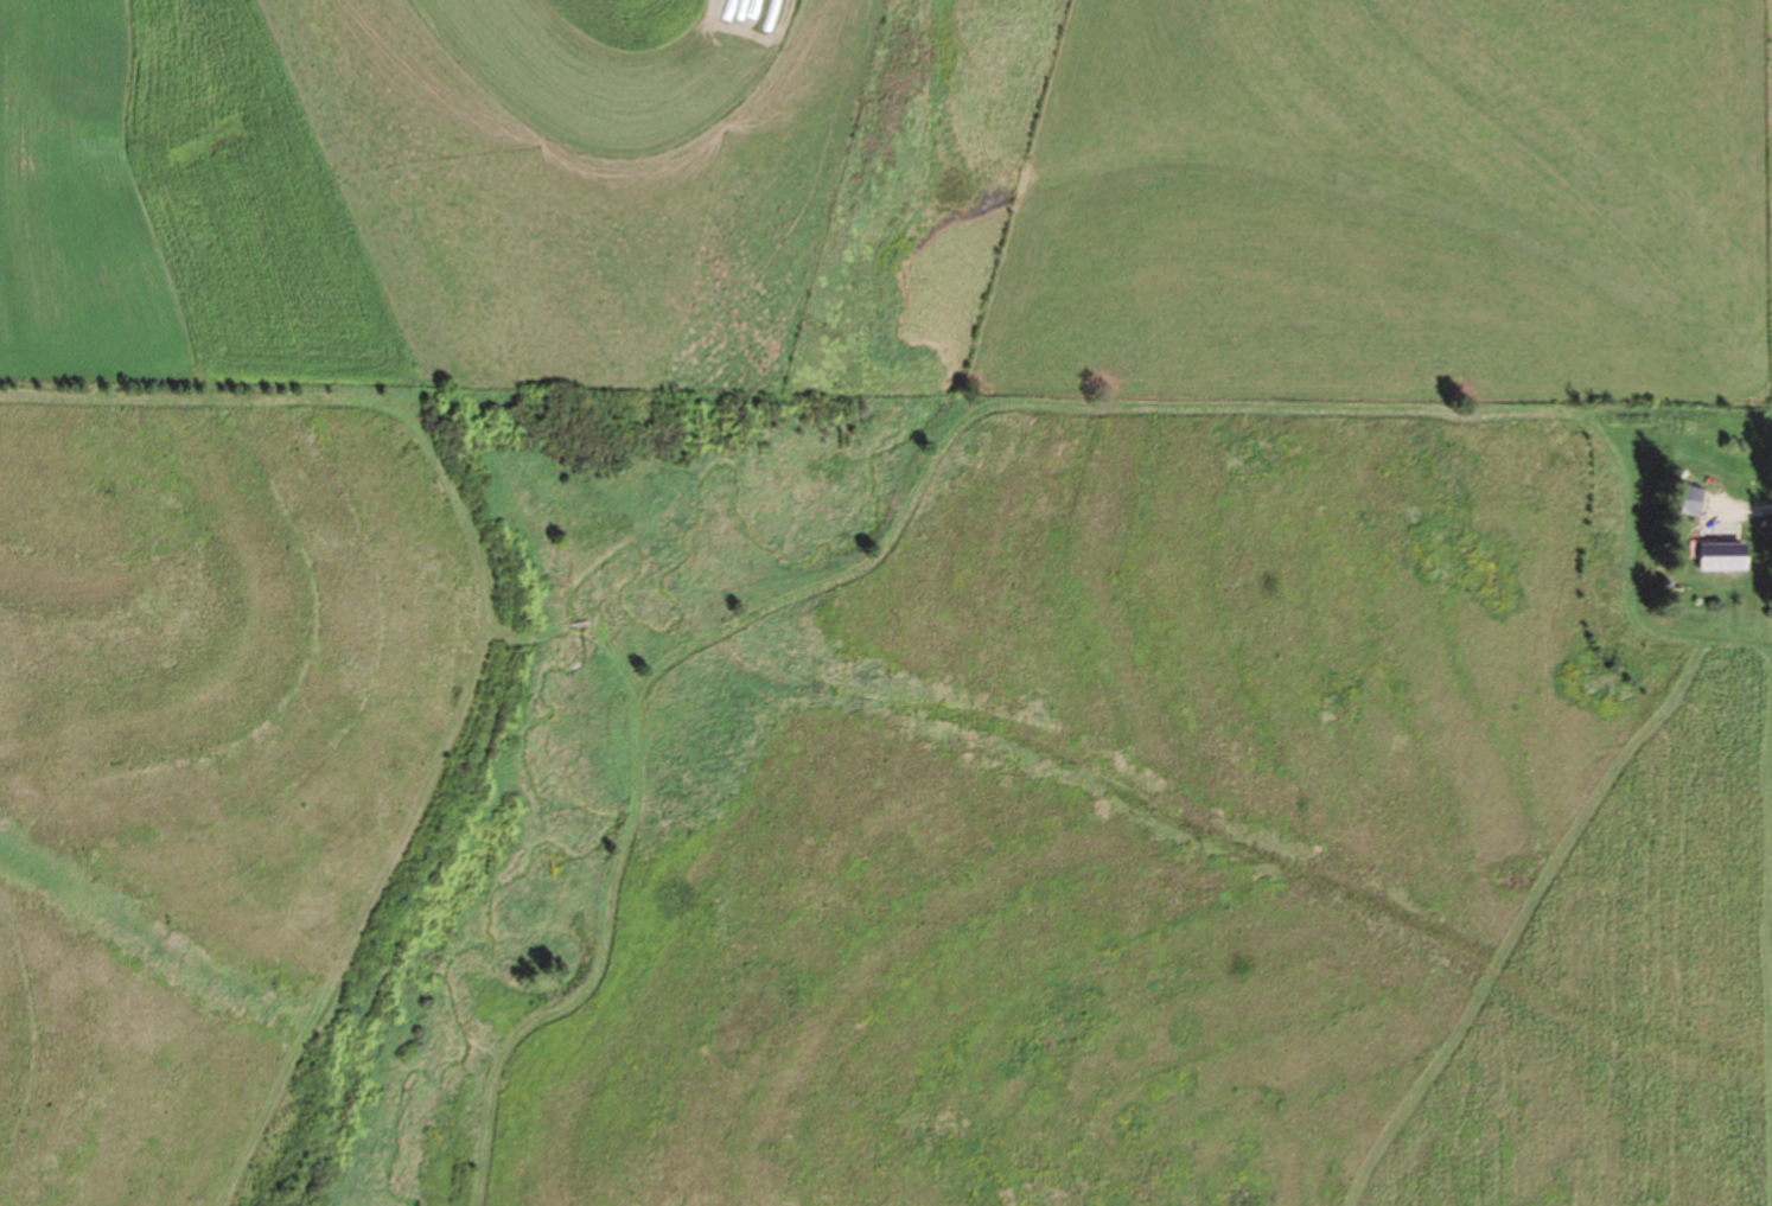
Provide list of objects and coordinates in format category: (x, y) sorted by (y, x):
building: (1687, 502)
building: (1712, 557)

